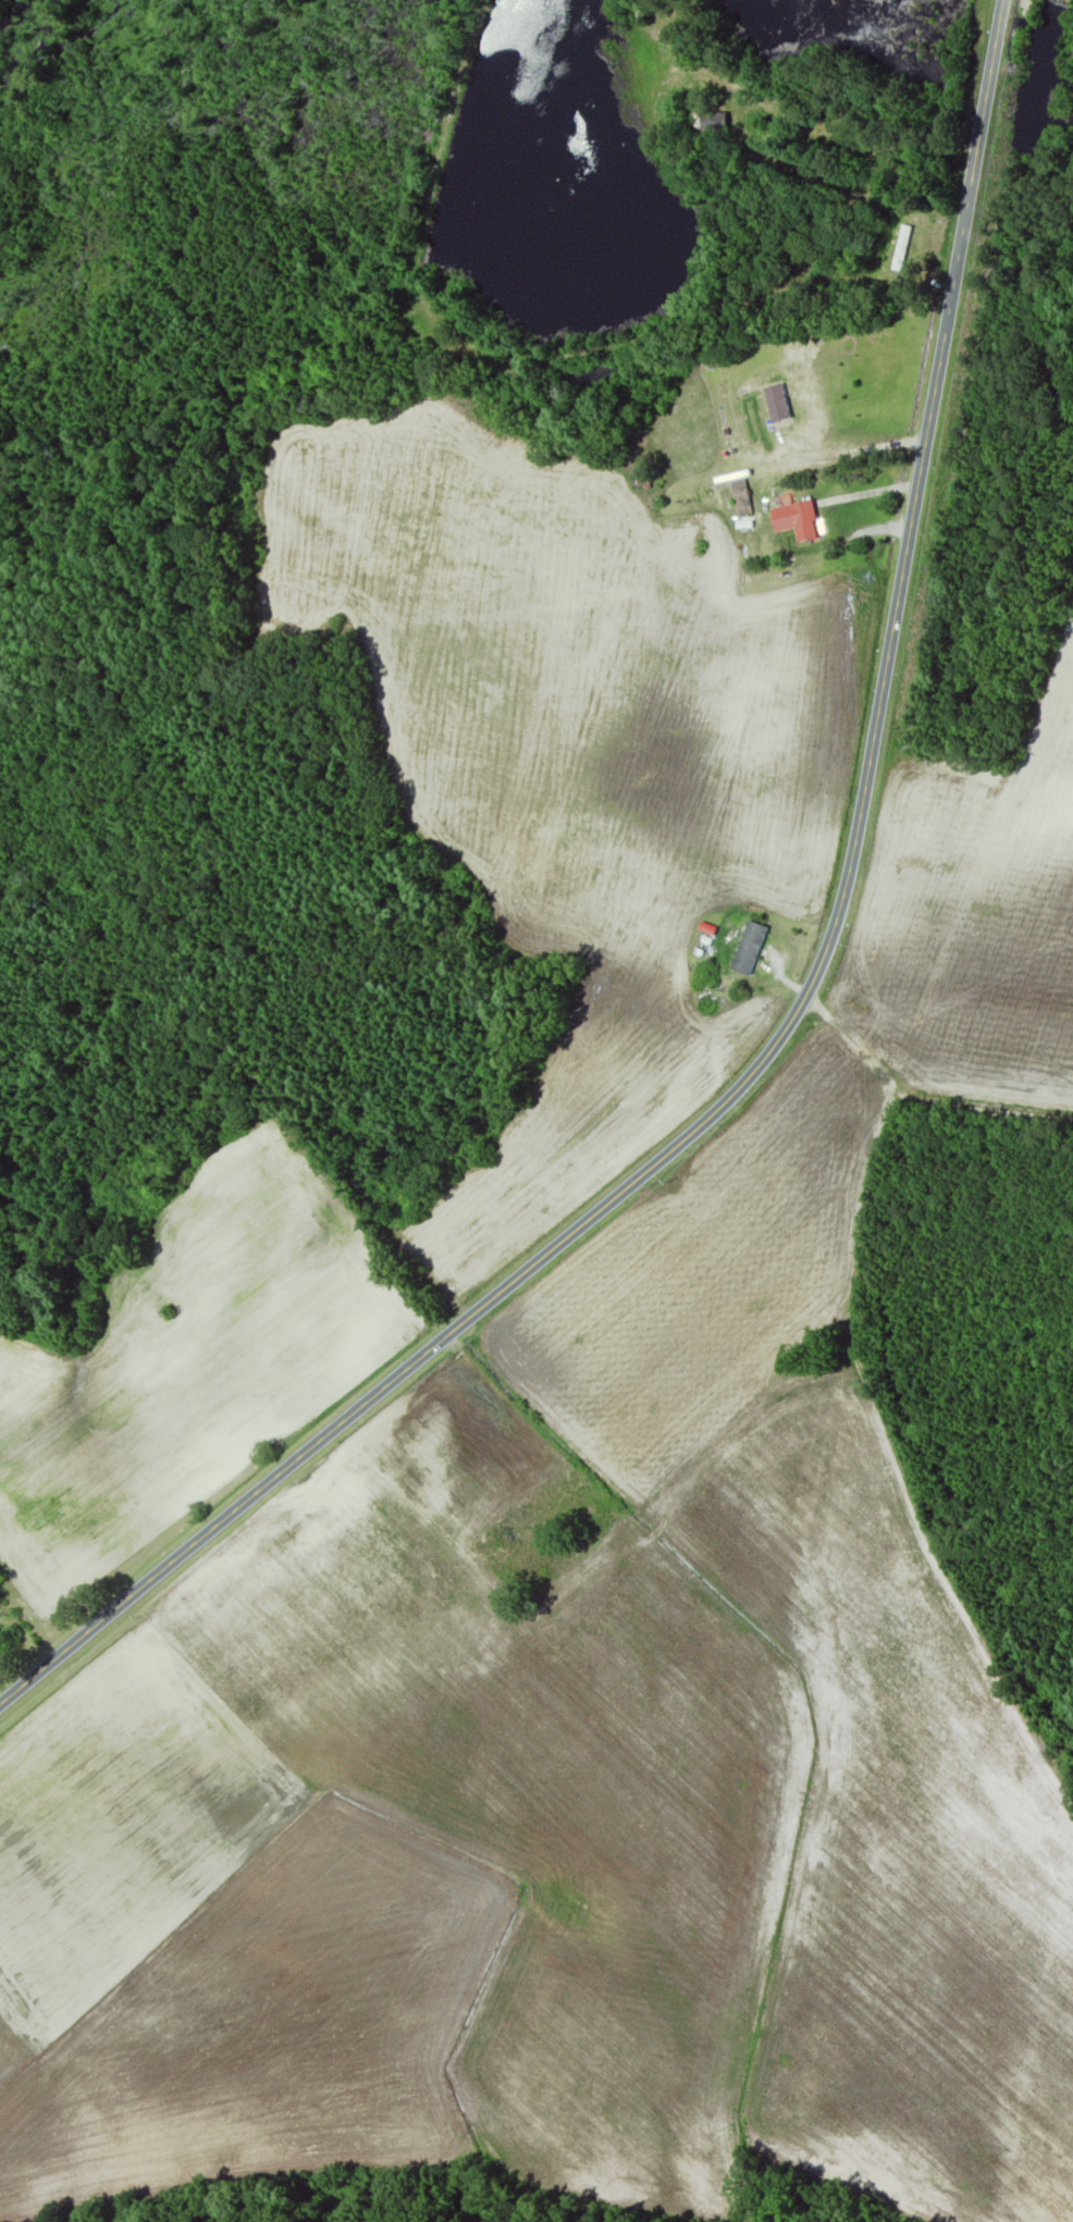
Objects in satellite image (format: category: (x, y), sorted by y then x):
building: (901, 249)
building: (774, 404)
building: (793, 521)
building: (748, 950)
road: (788, 1020)
road: (918, 1101)
road: (892, 1460)
road: (782, 1670)

